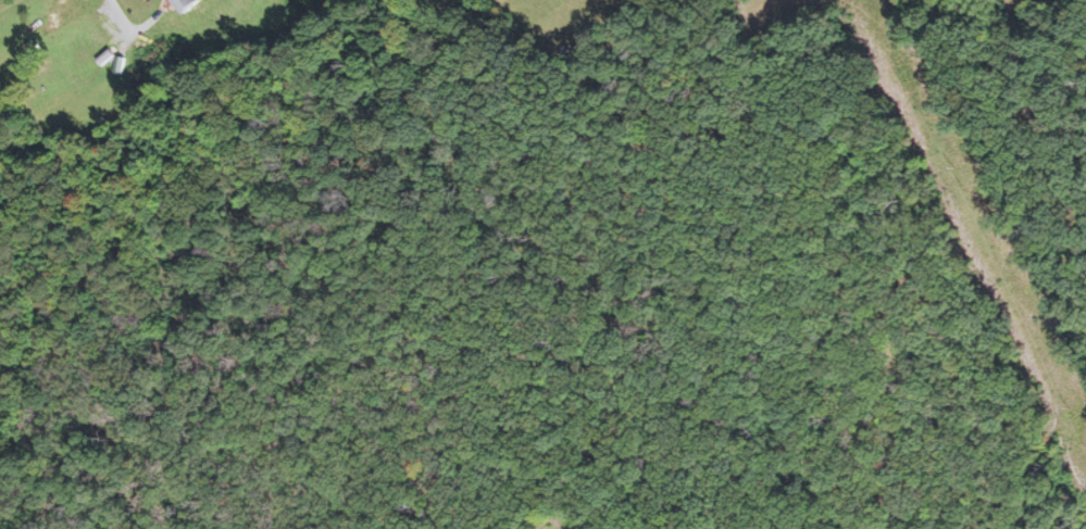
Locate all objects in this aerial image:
building: (185, 4)

